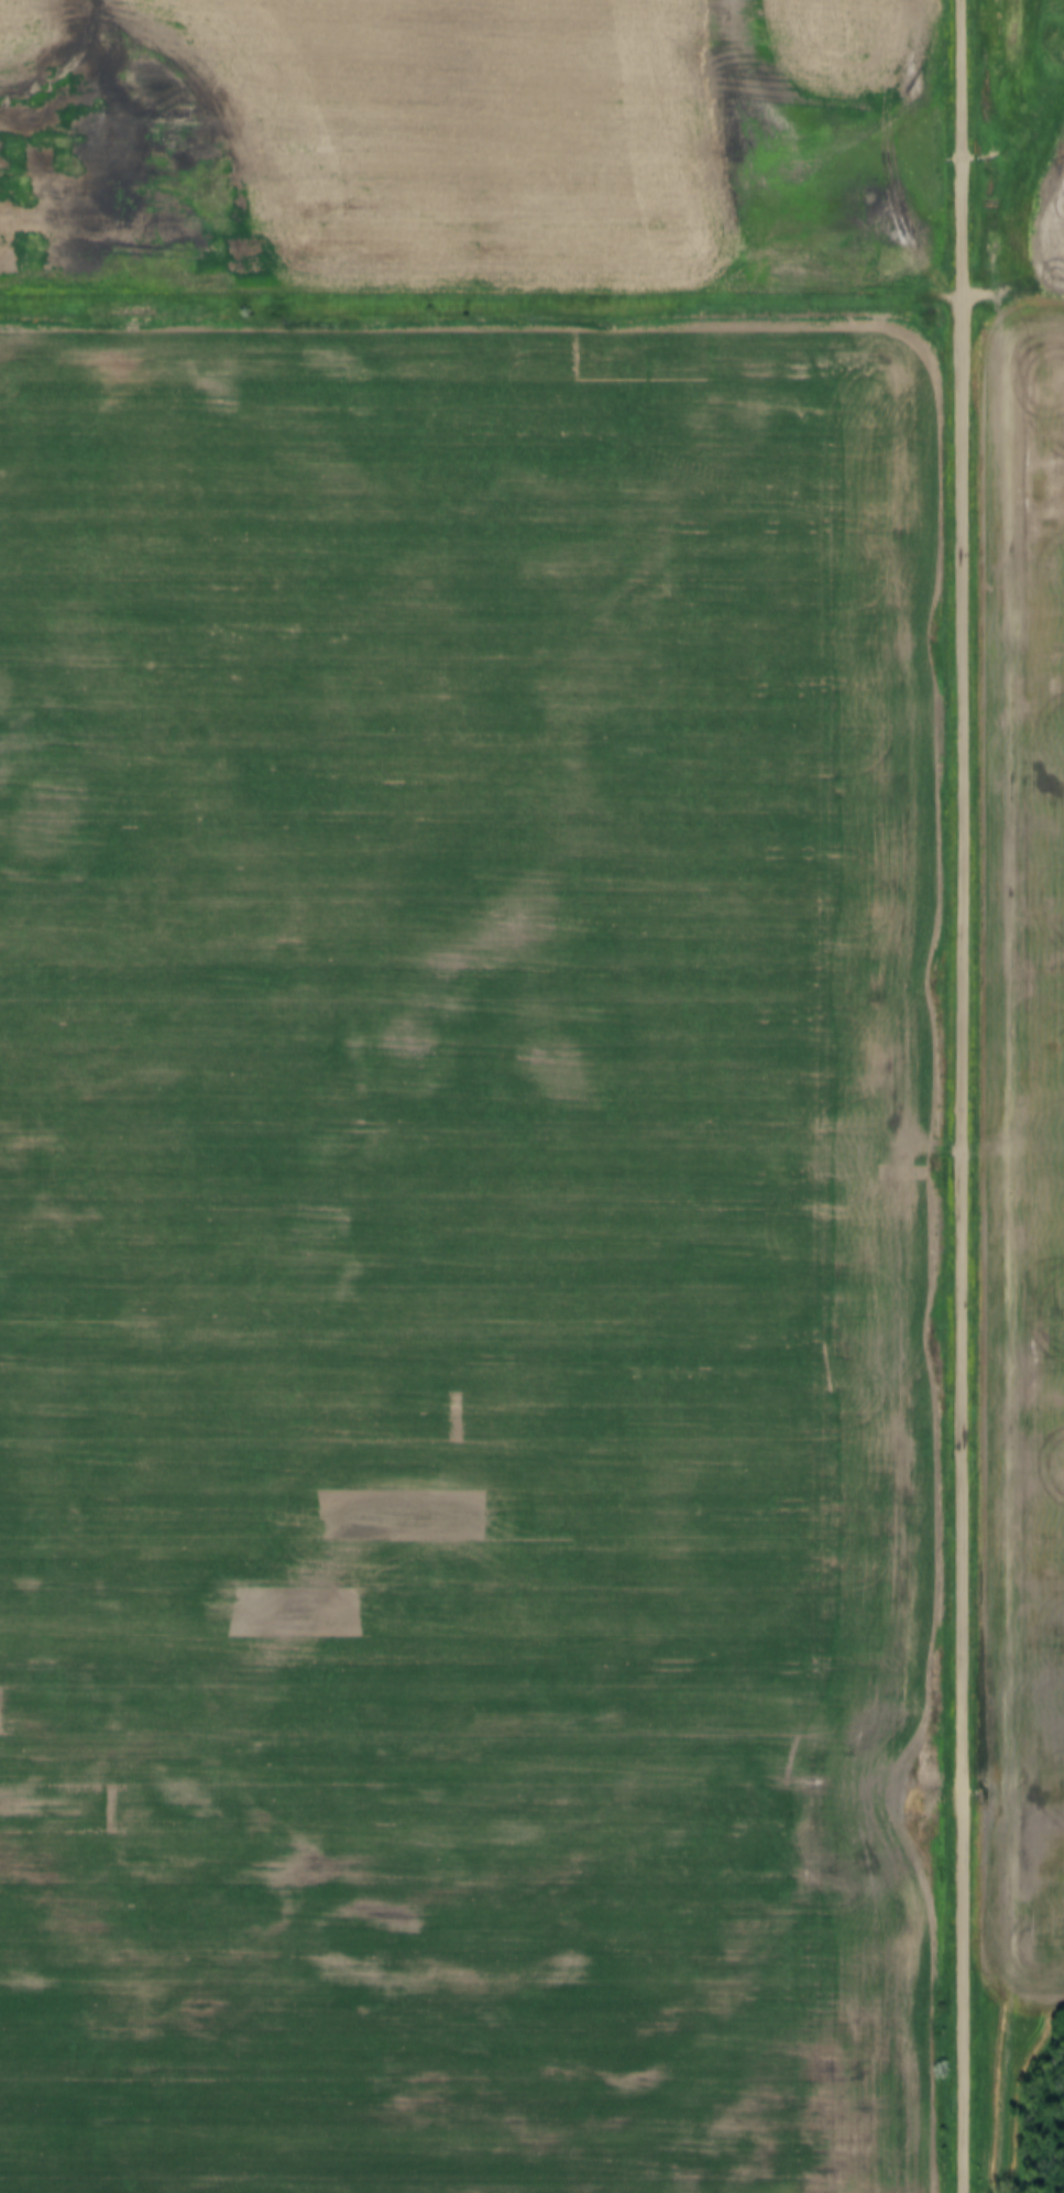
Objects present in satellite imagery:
road: (1014, 306)
road: (482, 307)
road: (967, 1095)

